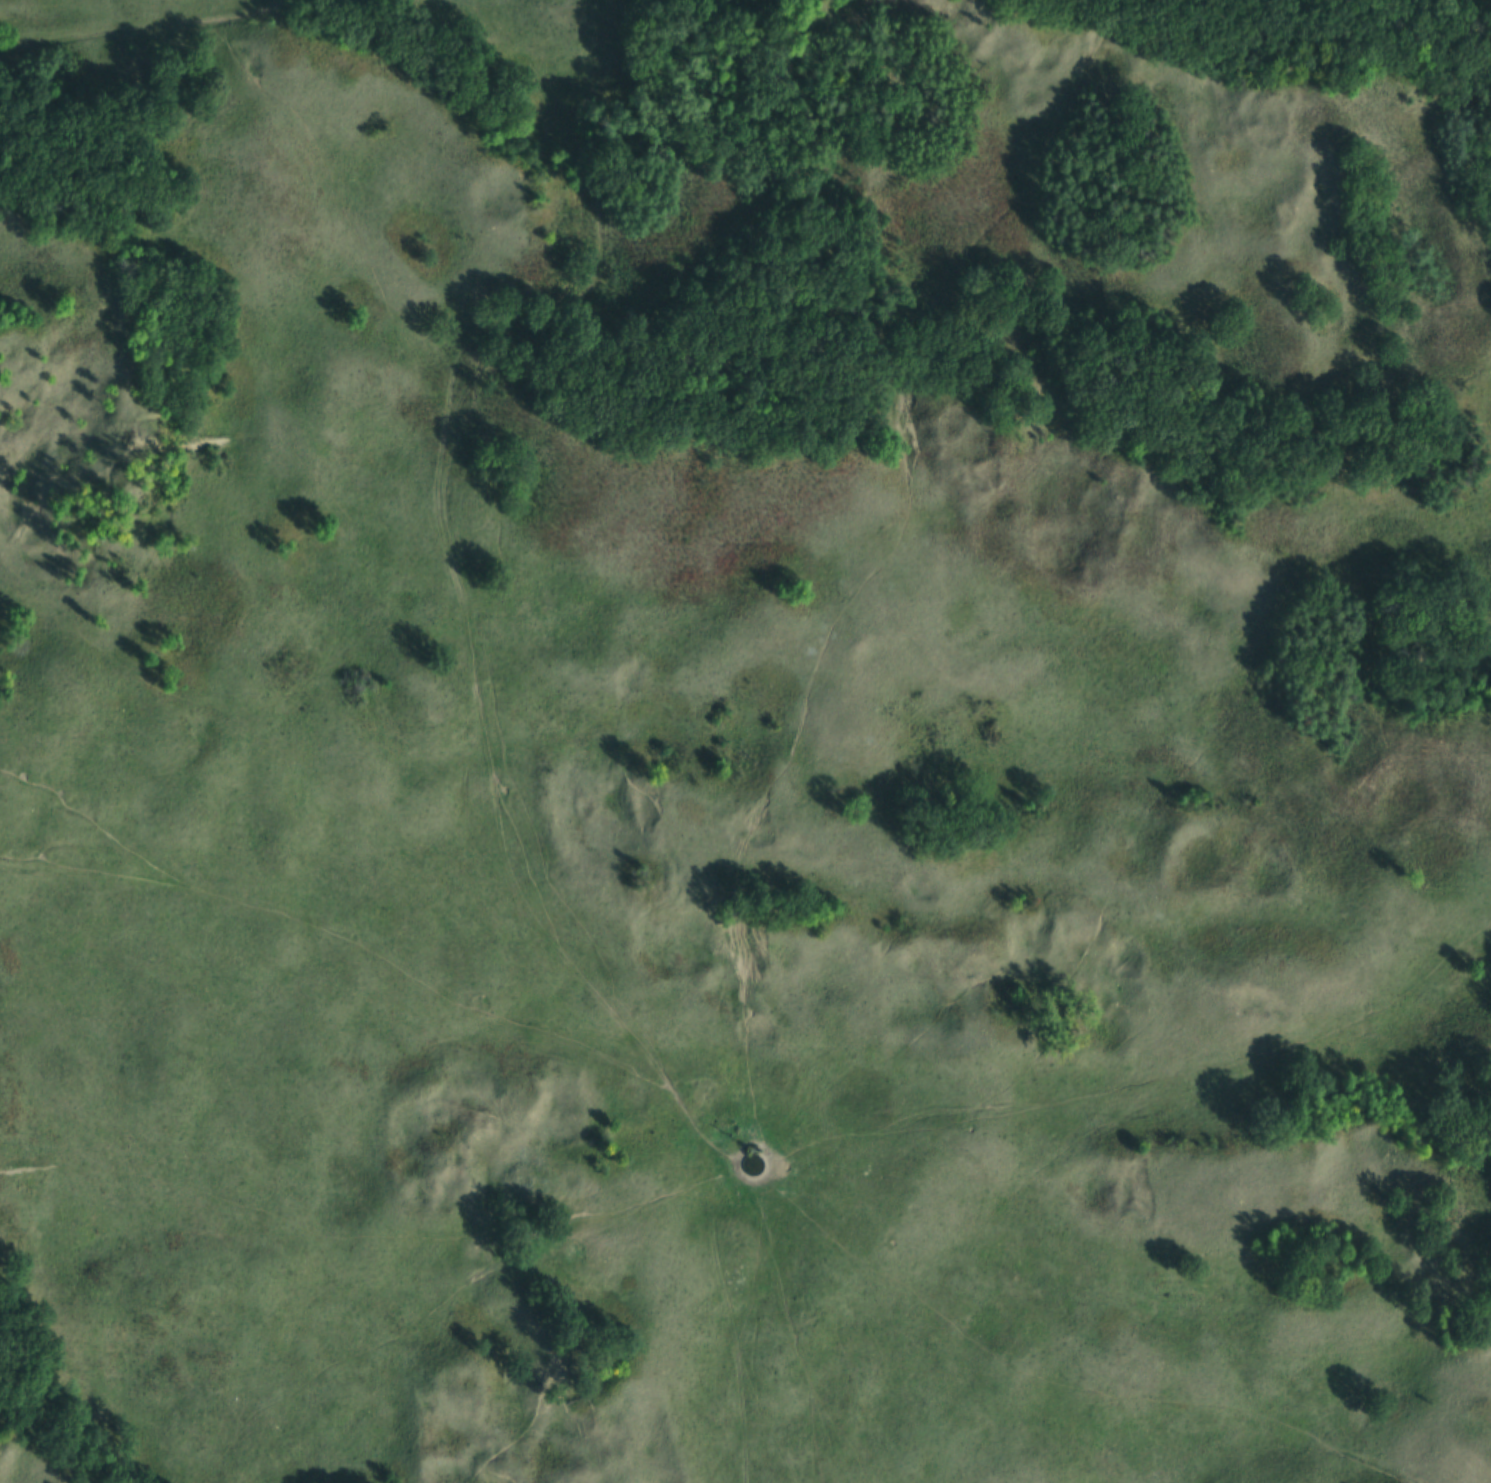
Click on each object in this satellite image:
road: (148, 30)
road: (481, 702)

